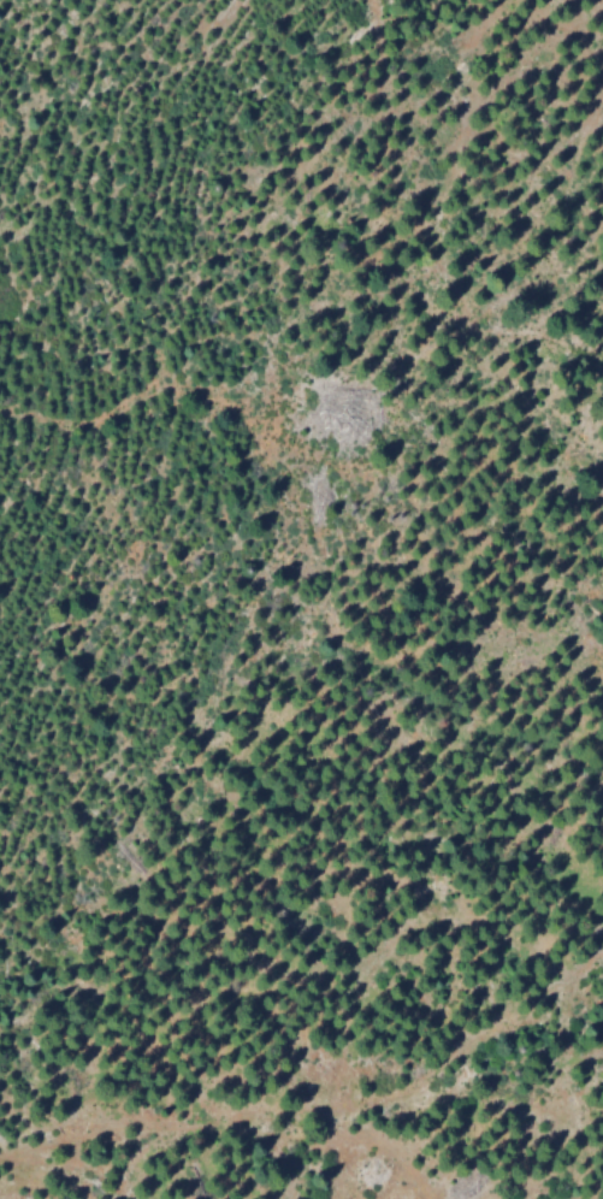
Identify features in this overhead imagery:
road: (81, 418)

